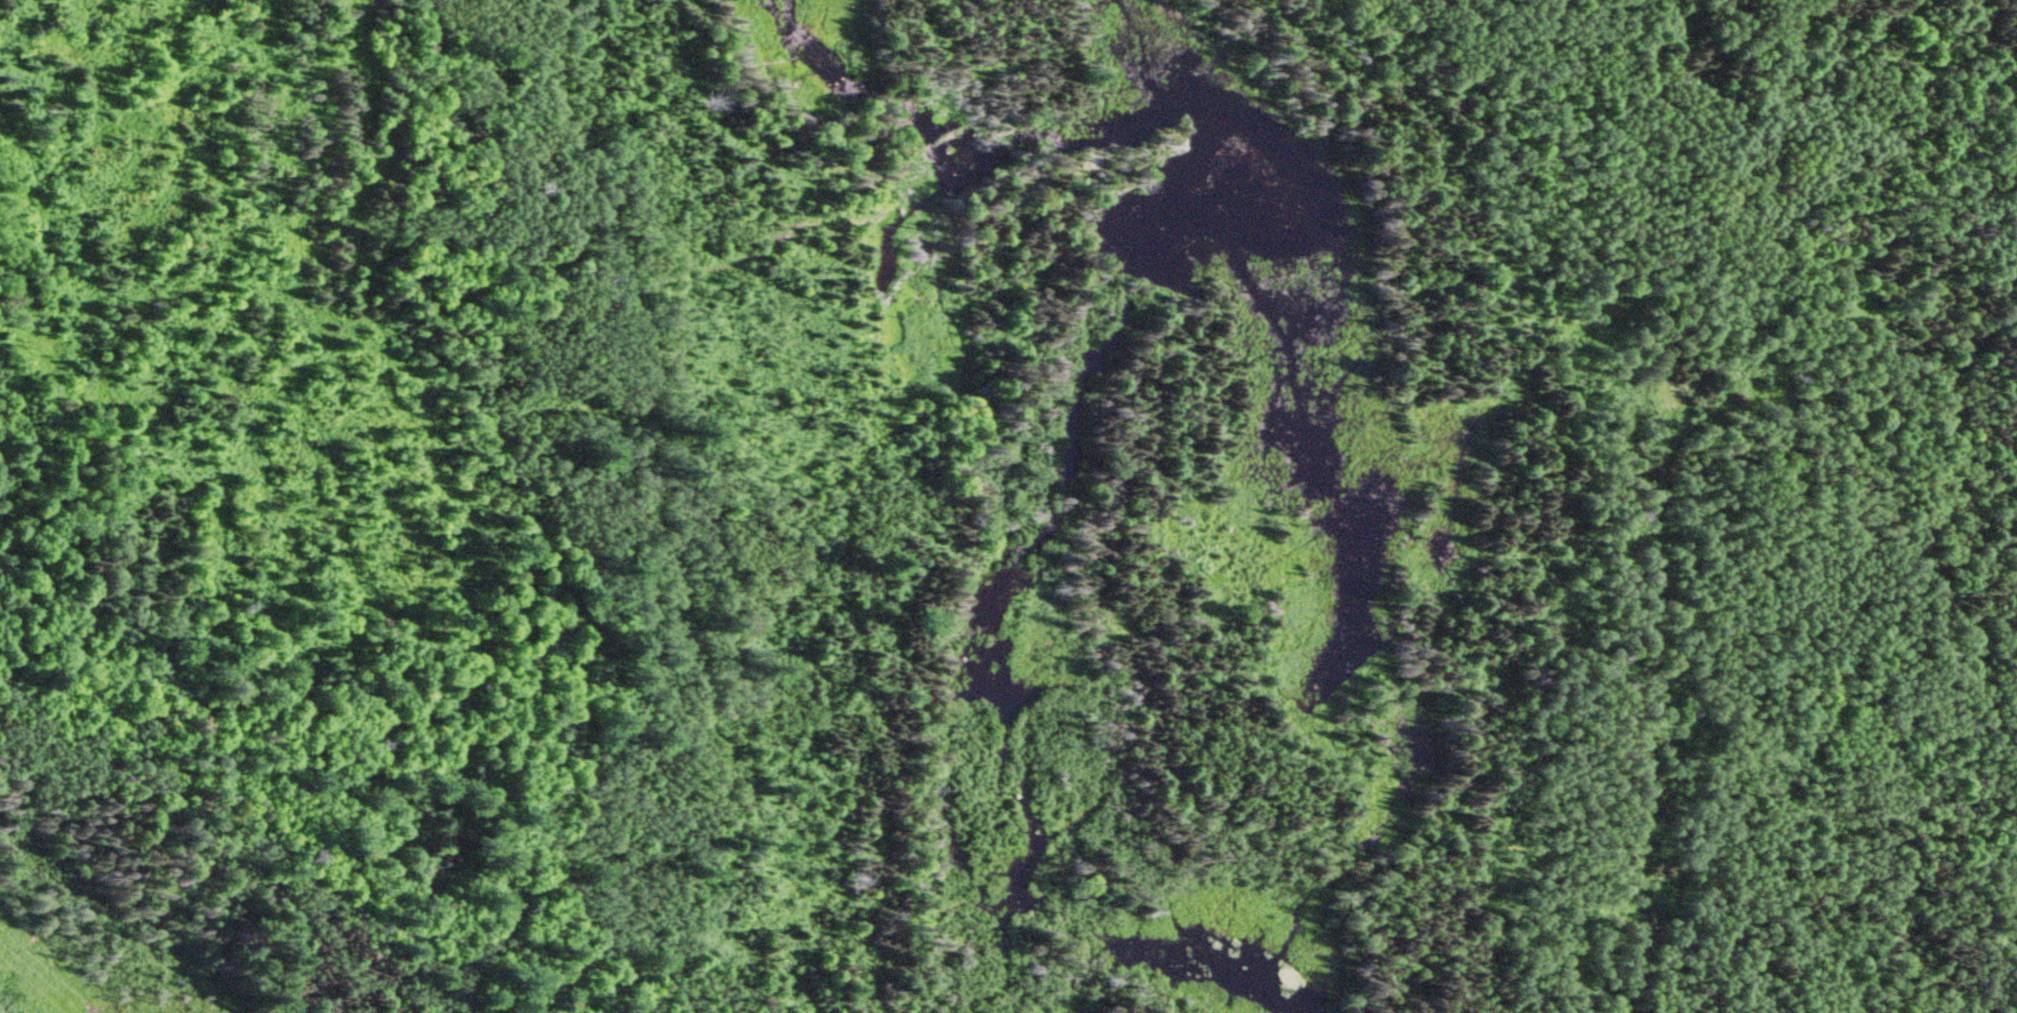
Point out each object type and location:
river: (909, 134)
river: (990, 664)
river: (1241, 973)

